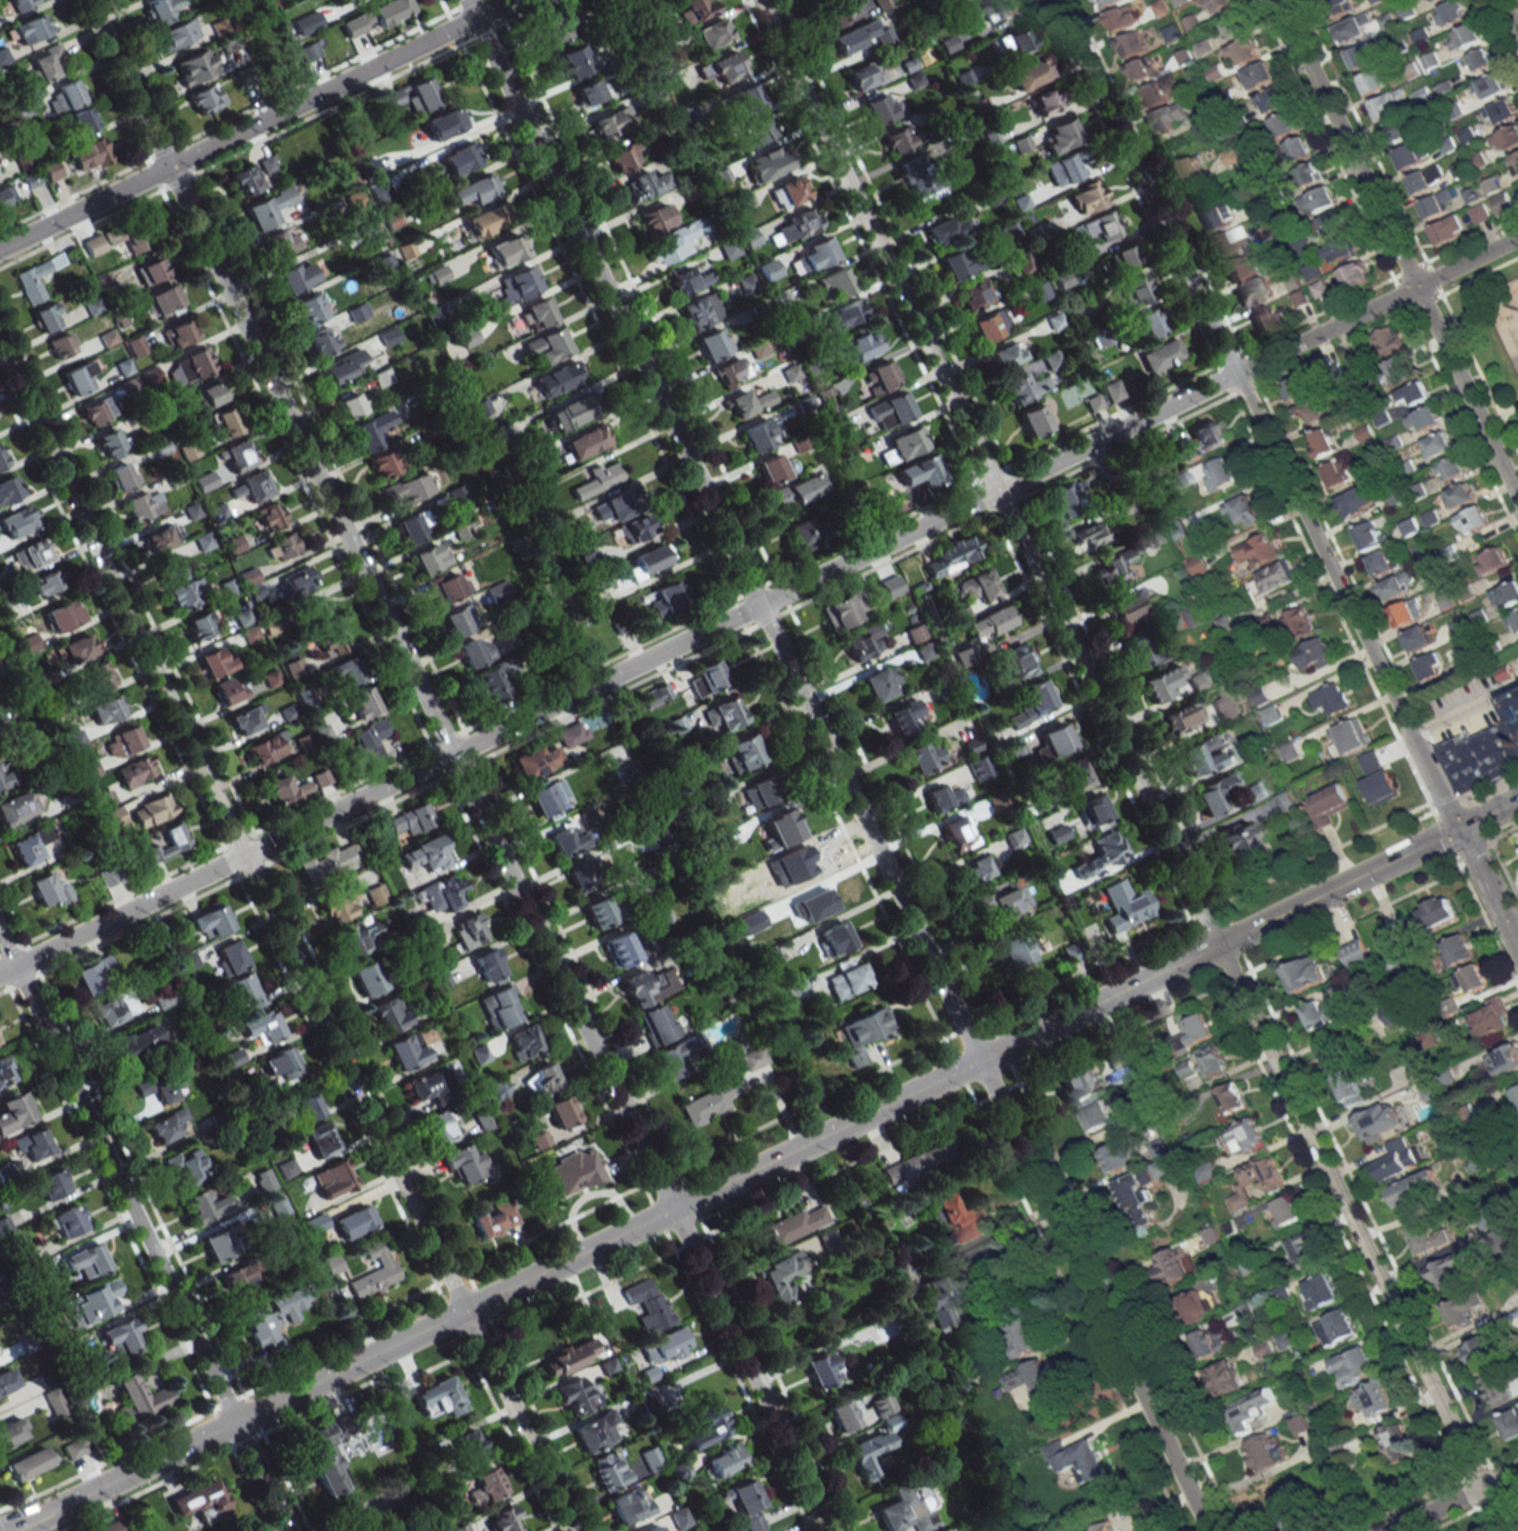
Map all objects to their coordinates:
building: (1433, 1)
building: (1105, 2)
building: (1218, 4)
building: (15, 5)
building: (1339, 7)
building: (338, 8)
building: (995, 9)
building: (160, 10)
building: (393, 10)
building: (694, 10)
building: (1451, 12)
road: (1509, 17)
building: (832, 18)
building: (1122, 18)
building: (558, 26)
building: (1235, 26)
building: (1353, 27)
building: (30, 29)
building: (176, 34)
building: (712, 34)
building: (861, 36)
building: (1464, 37)
building: (1017, 40)
building: (1132, 44)
building: (309, 51)
building: (1244, 51)
building: (1362, 56)
building: (1479, 60)
building: (576, 61)
building: (45, 63)
building: (196, 66)
building: (722, 68)
building: (1142, 69)
building: (1029, 74)
building: (863, 75)
building: (1258, 75)
building: (1374, 81)
building: (1489, 86)
building: (591, 90)
building: (1157, 93)
building: (64, 96)
building: (412, 96)
building: (747, 97)
building: (205, 100)
building: (1271, 100)
building: (1046, 101)
building: (1388, 104)
building: (881, 108)
building: (1502, 111)
building: (1169, 117)
building: (81, 121)
building: (613, 122)
building: (444, 123)
building: (1285, 123)
road: (254, 124)
building: (1397, 130)
building: (757, 132)
building: (1061, 135)
building: (1505, 139)
building: (898, 140)
road: (1346, 142)
building: (1021, 144)
building: (1298, 149)
building: (89, 154)
building: (1412, 155)
building: (465, 156)
building: (625, 157)
building: (773, 159)
building: (267, 163)
building: (1514, 163)
building: (1066, 167)
building: (1193, 167)
building: (1308, 174)
building: (722, 177)
building: (917, 179)
building: (1426, 179)
building: (245, 181)
building: (644, 184)
building: (473, 191)
building: (787, 191)
building: (6, 195)
building: (1087, 196)
building: (1317, 201)
building: (1437, 203)
building: (1501, 203)
building: (269, 208)
building: (1479, 213)
building: (1218, 217)
building: (655, 218)
building: (485, 219)
building: (1333, 223)
building: (797, 225)
building: (1096, 227)
building: (1448, 229)
building: (946, 230)
building: (1009, 230)
building: (129, 235)
building: (1234, 240)
building: (283, 242)
building: (672, 243)
building: (93, 245)
building: (730, 250)
building: (1340, 250)
building: (506, 251)
building: (815, 255)
building: (1124, 255)
building: (1023, 262)
building: (385, 263)
building: (958, 264)
building: (1240, 268)
building: (769, 269)
building: (151, 271)
building: (1313, 272)
building: (439, 274)
building: (1354, 275)
building: (297, 276)
building: (36, 278)
building: (686, 279)
building: (1064, 279)
building: (834, 282)
building: (747, 283)
building: (517, 284)
building: (1136, 290)
building: (1038, 291)
building: (1254, 292)
building: (975, 293)
building: (165, 301)
road: (1376, 303)
building: (309, 308)
building: (700, 310)
building: (537, 313)
building: (845, 314)
building: (46, 317)
building: (1267, 318)
building: (1152, 321)
building: (990, 325)
building: (180, 333)
building: (468, 337)
building: (1389, 341)
building: (323, 342)
building: (713, 343)
building: (60, 345)
building: (861, 345)
building: (136, 347)
building: (758, 350)
building: (1006, 355)
building: (1162, 355)
building: (1357, 362)
building: (194, 364)
building: (344, 366)
building: (1400, 371)
building: (731, 372)
building: (77, 377)
building: (880, 377)
building: (557, 379)
building: (1024, 386)
building: (1295, 387)
building: (1113, 391)
road: (1466, 391)
building: (1414, 392)
building: (212, 394)
building: (827, 396)
building: (747, 402)
building: (1093, 402)
building: (353, 405)
building: (483, 409)
building: (1313, 409)
building: (97, 411)
building: (889, 411)
building: (568, 413)
road: (1255, 414)
building: (1034, 420)
building: (1423, 420)
building: (227, 422)
building: (372, 430)
building: (758, 435)
building: (1208, 435)
building: (586, 442)
building: (1321, 442)
building: (109, 443)
building: (1436, 444)
building: (903, 445)
building: (189, 450)
building: (239, 455)
building: (386, 463)
building: (775, 468)
building: (1450, 469)
building: (921, 471)
building: (1337, 472)
building: (601, 475)
building: (1220, 475)
building: (123, 476)
building: (204, 481)
building: (253, 486)
building: (9, 488)
building: (407, 490)
building: (798, 491)
building: (1462, 494)
building: (1066, 499)
building: (142, 506)
building: (611, 509)
building: (1243, 510)
building: (192, 511)
building: (218, 513)
building: (270, 516)
building: (23, 519)
building: (1473, 519)
building: (413, 526)
building: (634, 530)
building: (802, 532)
building: (1089, 533)
building: (1369, 535)
building: (160, 538)
building: (204, 541)
building: (281, 547)
building: (1260, 550)
building: (32, 555)
building: (952, 556)
building: (431, 558)
building: (649, 560)
building: (1492, 561)
building: (1383, 562)
building: (1198, 565)
building: (168, 568)
building: (1112, 572)
building: (1273, 577)
building: (300, 582)
building: (47, 583)
building: (1397, 585)
building: (978, 586)
building: (446, 587)
building: (1506, 594)
building: (183, 596)
building: (667, 598)
building: (1446, 601)
building: (1131, 605)
building: (843, 609)
building: (314, 611)
building: (1409, 612)
building: (1192, 615)
building: (64, 616)
building: (1512, 619)
building: (458, 621)
building: (1300, 621)
building: (988, 623)
building: (199, 626)
building: (915, 633)
building: (1418, 638)
building: (330, 641)
building: (864, 642)
building: (31, 643)
building: (78, 648)
building: (1137, 650)
building: (475, 652)
building: (964, 655)
building: (1311, 655)
building: (216, 662)
building: (1013, 662)
building: (1430, 666)
building: (295, 668)
building: (344, 672)
road: (617, 673)
building: (100, 675)
building: (707, 678)
building: (1200, 680)
building: (492, 681)
building: (880, 682)
building: (1163, 683)
building: (228, 690)
building: (655, 695)
building: (1261, 695)
building: (1332, 697)
building: (362, 702)
building: (1033, 703)
road: (1463, 705)
building: (1226, 708)
building: (106, 709)
building: (725, 714)
building: (1271, 714)
building: (903, 717)
building: (1182, 718)
building: (246, 719)
building: (571, 734)
building: (1347, 737)
building: (76, 738)
building: (371, 739)
building: (123, 741)
building: (1053, 742)
building: (266, 748)
building: (1289, 751)
building: (1484, 751)
building: (743, 752)
building: (923, 756)
building: (1199, 759)
building: (535, 761)
road: (456, 765)
road: (835, 765)
road: (1129, 765)
building: (137, 772)
building: (629, 773)
building: (4, 775)
building: (1074, 775)
building: (1377, 777)
building: (281, 791)
building: (1215, 792)
building: (1254, 792)
building: (758, 793)
building: (942, 797)
building: (105, 798)
building: (547, 798)
building: (1327, 804)
building: (1039, 805)
building: (17, 808)
building: (153, 809)
building: (1094, 812)
road: (1487, 814)
building: (411, 819)
building: (780, 823)
building: (958, 833)
building: (1057, 834)
building: (1015, 836)
building: (568, 841)
building: (168, 844)
building: (1238, 844)
building: (31, 845)
building: (1102, 854)
building: (425, 855)
building: (803, 859)
building: (329, 862)
building: (978, 867)
road: (1502, 870)
building: (745, 877)
building: (579, 878)
road: (1488, 889)
building: (49, 890)
building: (375, 894)
building: (442, 894)
building: (1005, 902)
building: (809, 903)
building: (339, 905)
building: (1125, 905)
building: (600, 911)
building: (1436, 911)
building: (211, 922)
building: (468, 931)
road: (1514, 932)
building: (358, 935)
building: (833, 939)
road: (285, 942)
building: (619, 949)
building: (1016, 949)
building: (1456, 950)
building: (1355, 952)
building: (230, 957)
building: (489, 967)
building: (96, 974)
building: (1303, 974)
building: (368, 977)
building: (847, 977)
building: (1471, 978)
building: (647, 986)
building: (245, 990)
building: (798, 990)
building: (501, 1007)
building: (115, 1008)
building: (1320, 1013)
building: (389, 1014)
building: (1491, 1017)
building: (657, 1024)
building: (261, 1026)
building: (1196, 1029)
building: (864, 1032)
building: (137, 1042)
building: (523, 1042)
building: (407, 1050)
building: (1331, 1052)
building: (674, 1057)
building: (752, 1059)
building: (1212, 1059)
building: (1504, 1061)
building: (282, 1063)
building: (1186, 1069)
building: (6, 1072)
building: (541, 1080)
building: (162, 1084)
building: (1076, 1086)
building: (427, 1087)
building: (1427, 1088)
building: (1348, 1089)
building: (1516, 1094)
building: (1231, 1097)
building: (714, 1099)
building: (308, 1106)
building: (15, 1112)
building: (561, 1113)
building: (1096, 1115)
building: (482, 1119)
building: (1374, 1123)
building: (167, 1125)
building: (439, 1127)
building: (1244, 1136)
building: (320, 1139)
building: (32, 1144)
building: (1117, 1157)
building: (1397, 1159)
building: (464, 1164)
building: (916, 1164)
building: (189, 1165)
building: (1169, 1167)
building: (287, 1168)
road: (755, 1168)
building: (575, 1171)
building: (333, 1179)
building: (264, 1180)
building: (1274, 1183)
building: (52, 1184)
building: (1415, 1188)
building: (1138, 1197)
building: (206, 1205)
building: (278, 1205)
building: (1287, 1209)
building: (959, 1217)
building: (494, 1219)
building: (69, 1221)
building: (354, 1222)
building: (315, 1223)
building: (796, 1224)
road: (144, 1233)
road: (989, 1234)
building: (1430, 1235)
building: (219, 1245)
building: (1303, 1251)
building: (87, 1261)
building: (332, 1264)
building: (1171, 1266)
building: (1445, 1271)
building: (375, 1272)
building: (900, 1272)
building: (782, 1277)
building: (240, 1280)
building: (1320, 1291)
building: (939, 1300)
building: (94, 1302)
building: (1195, 1305)
building: (651, 1306)
building: (1467, 1307)
building: (276, 1318)
building: (1336, 1328)
building: (1026, 1336)
building: (121, 1337)
building: (1210, 1341)
building: (663, 1346)
building: (1483, 1347)
building: (569, 1357)
building: (1354, 1366)
building: (822, 1369)
building: (1228, 1377)
building: (1033, 1378)
building: (7, 1380)
building: (1498, 1387)
building: (576, 1396)
building: (140, 1397)
building: (438, 1397)
building: (1373, 1398)
building: (55, 1402)
building: (882, 1404)
building: (1250, 1410)
building: (845, 1413)
building: (1509, 1423)
building: (1299, 1424)
building: (706, 1427)
building: (12, 1431)
building: (596, 1432)
building: (1396, 1442)
building: (469, 1448)
building: (73, 1449)
building: (871, 1449)
building: (1264, 1453)
building: (328, 1457)
building: (1076, 1457)
building: (651, 1459)
building: (723, 1460)
building: (28, 1464)
building: (608, 1470)
building: (486, 1485)
road: (1454, 1500)
building: (447, 1501)
building: (202, 1502)
building: (747, 1504)
building: (629, 1505)
building: (905, 1511)
building: (680, 1518)
road: (32, 1519)
building: (504, 1519)
building: (1294, 1522)
building: (116, 1527)
building: (654, 1528)
building: (1113, 1530)

